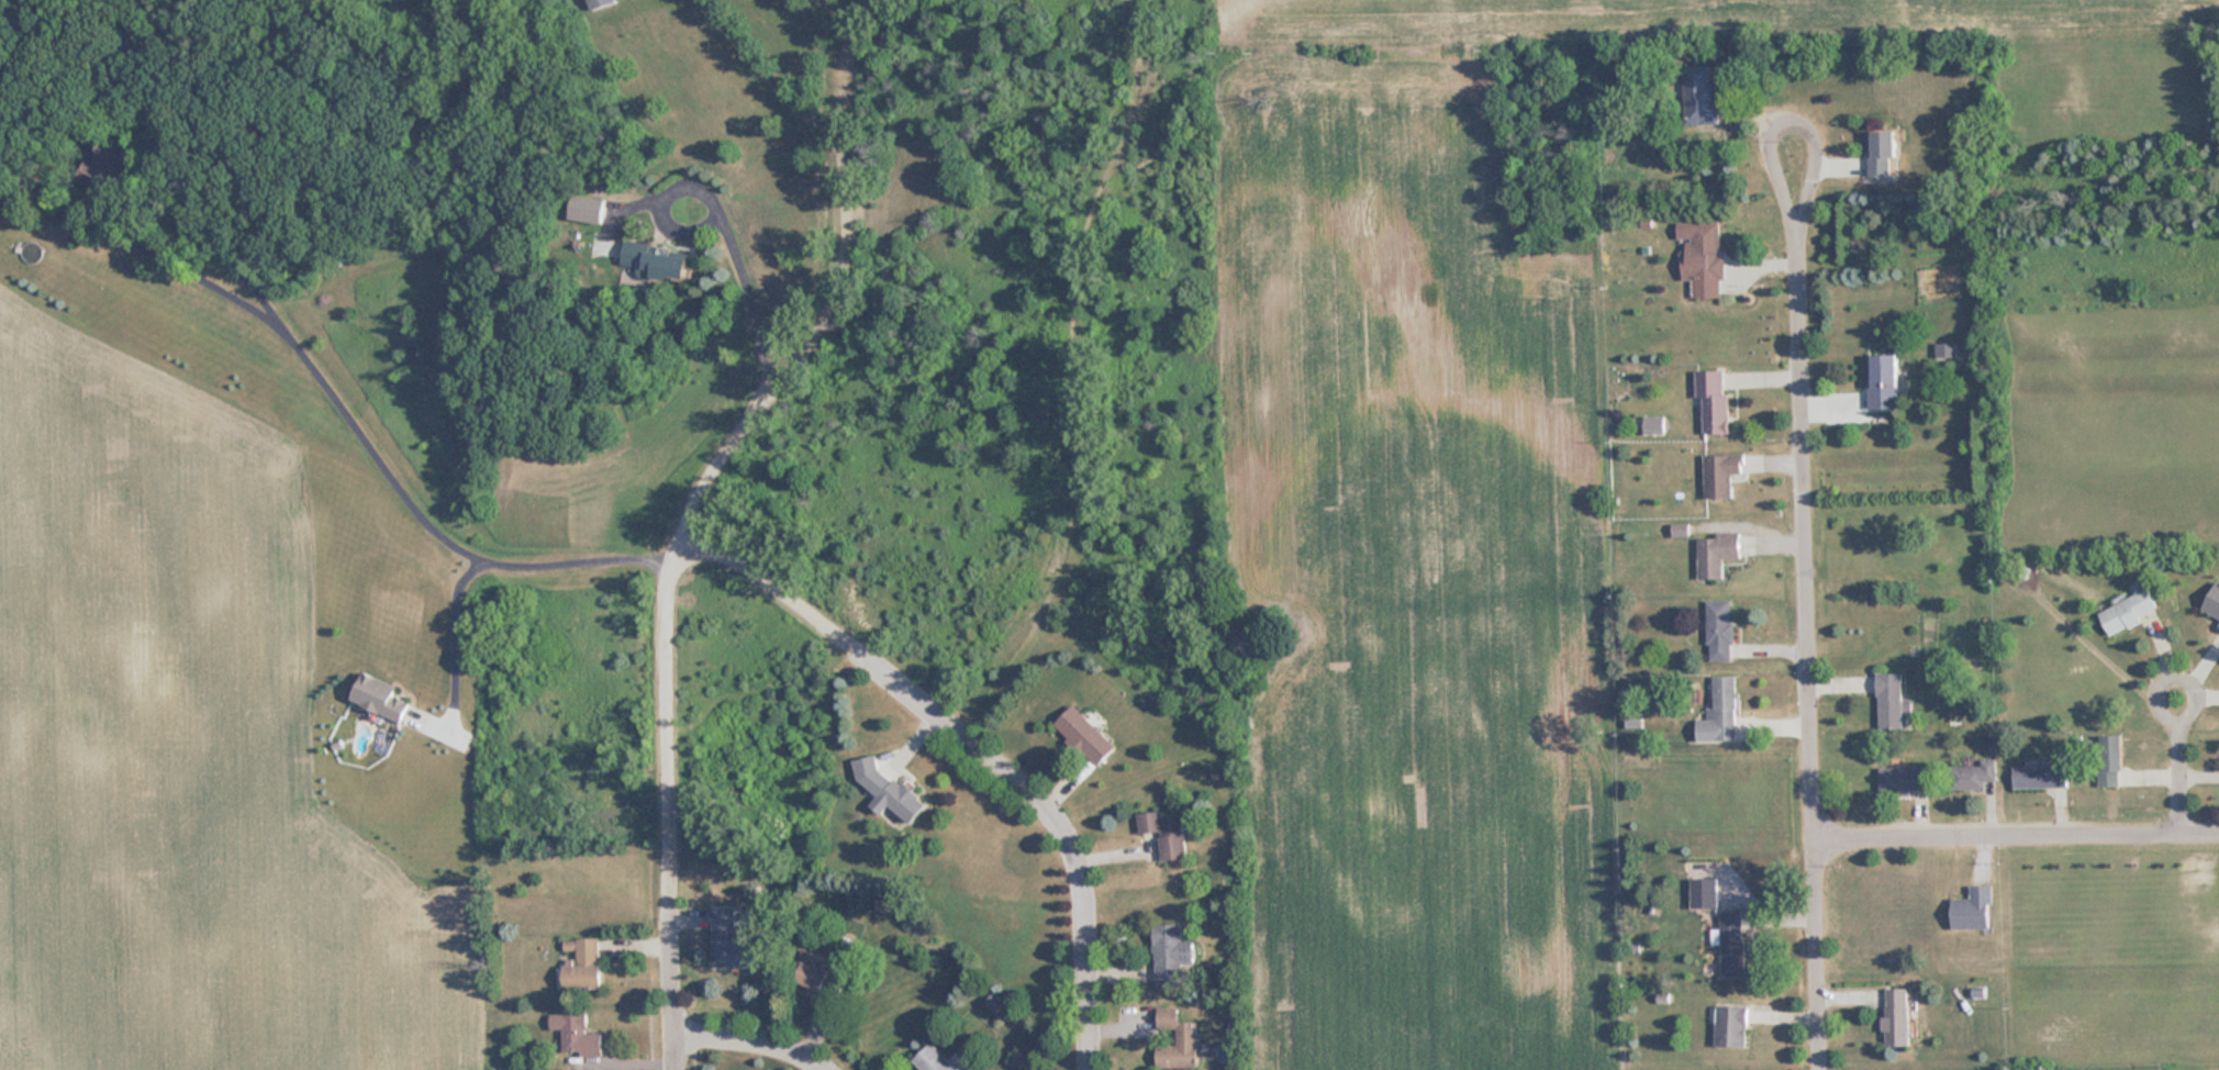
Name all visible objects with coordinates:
building: (600, 3)
road: (769, 67)
building: (1698, 93)
road: (1791, 105)
building: (1883, 152)
building: (99, 166)
building: (588, 208)
road: (729, 224)
building: (1702, 256)
building: (658, 261)
building: (1945, 352)
road: (1077, 375)
building: (1883, 381)
building: (1713, 402)
building: (1720, 475)
road: (419, 494)
road: (690, 511)
building: (1717, 554)
building: (2212, 604)
building: (2127, 612)
building: (1719, 631)
road: (457, 633)
road: (1810, 637)
building: (380, 696)
building: (1892, 701)
road: (2184, 702)
building: (1720, 712)
building: (1085, 735)
road: (974, 745)
building: (2109, 761)
building: (1973, 776)
building: (2043, 776)
building: (1903, 779)
building: (893, 795)
road: (2017, 823)
building: (1164, 834)
building: (1703, 893)
building: (1973, 910)
building: (729, 941)
building: (1731, 943)
building: (1171, 955)
building: (581, 965)
building: (817, 976)
building: (1896, 1017)
building: (1730, 1026)
building: (575, 1035)
road: (754, 1041)
building: (1177, 1041)
building: (932, 1060)

